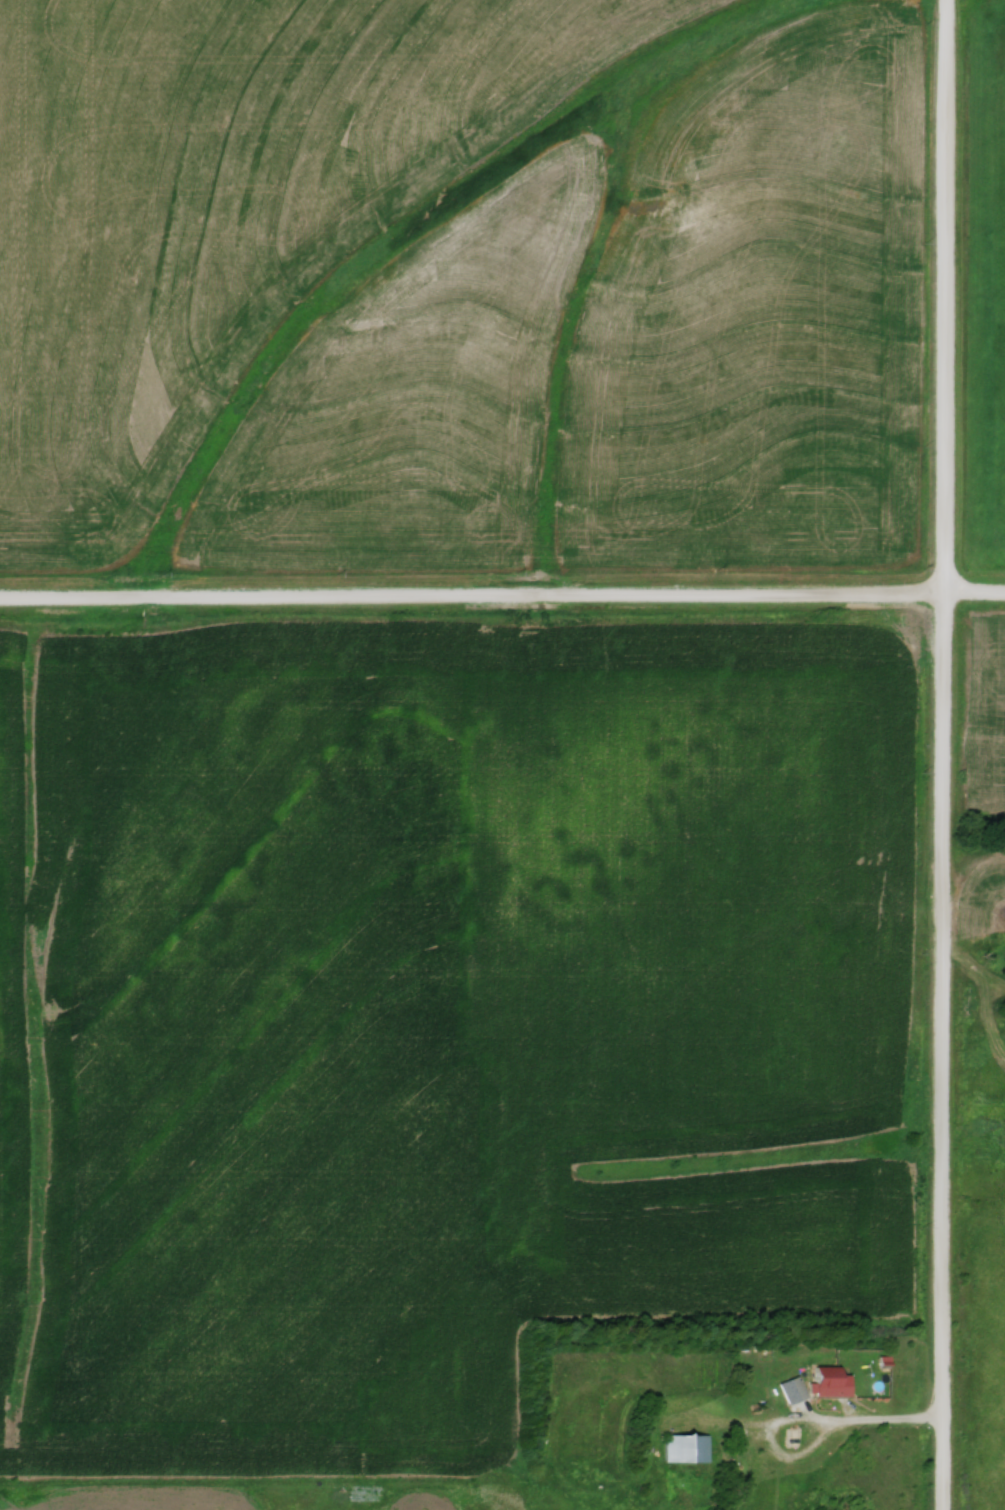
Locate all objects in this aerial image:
road: (502, 599)
road: (943, 754)
building: (824, 1381)
building: (789, 1389)
road: (888, 1425)
road: (780, 1426)
building: (685, 1448)

